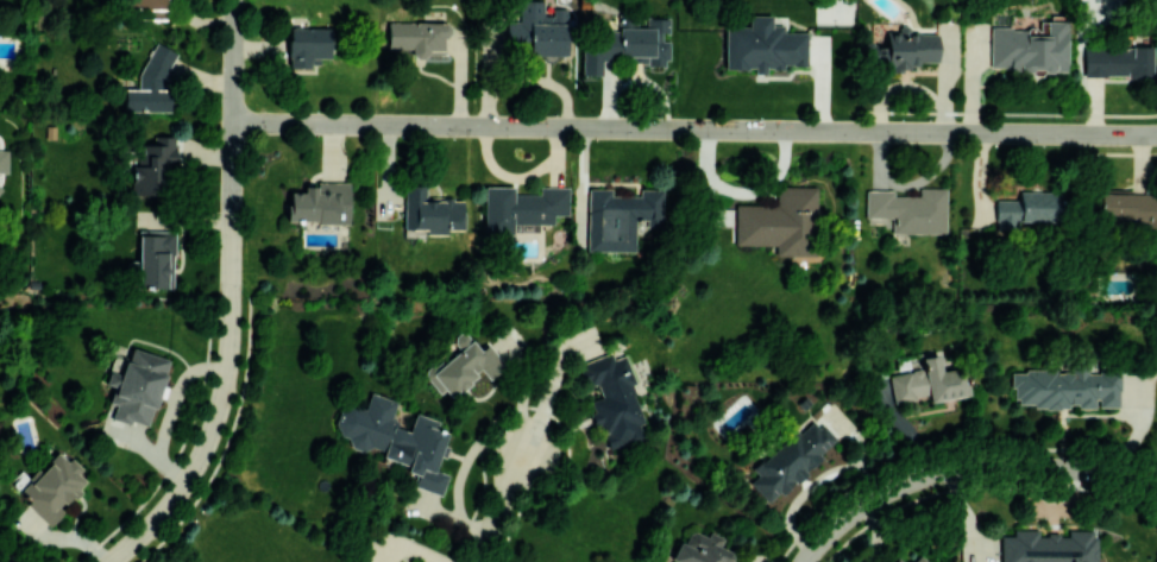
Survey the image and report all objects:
building: (149, 4)
building: (540, 30)
building: (419, 37)
building: (647, 40)
building: (307, 45)
building: (763, 45)
building: (1027, 48)
building: (899, 49)
building: (597, 51)
building: (1118, 62)
building: (151, 83)
road: (693, 128)
building: (4, 160)
building: (152, 164)
building: (320, 203)
building: (1130, 206)
building: (522, 207)
building: (908, 209)
building: (1027, 209)
building: (432, 211)
building: (620, 217)
building: (780, 222)
building: (156, 258)
road: (225, 299)
building: (463, 365)
building: (929, 381)
building: (137, 385)
building: (1065, 389)
building: (884, 390)
building: (612, 399)
building: (395, 438)
building: (791, 459)
road: (968, 471)
building: (52, 486)
road: (503, 507)
building: (1048, 547)
building: (700, 549)
building: (919, 558)
road: (2, 560)
building: (899, 560)

